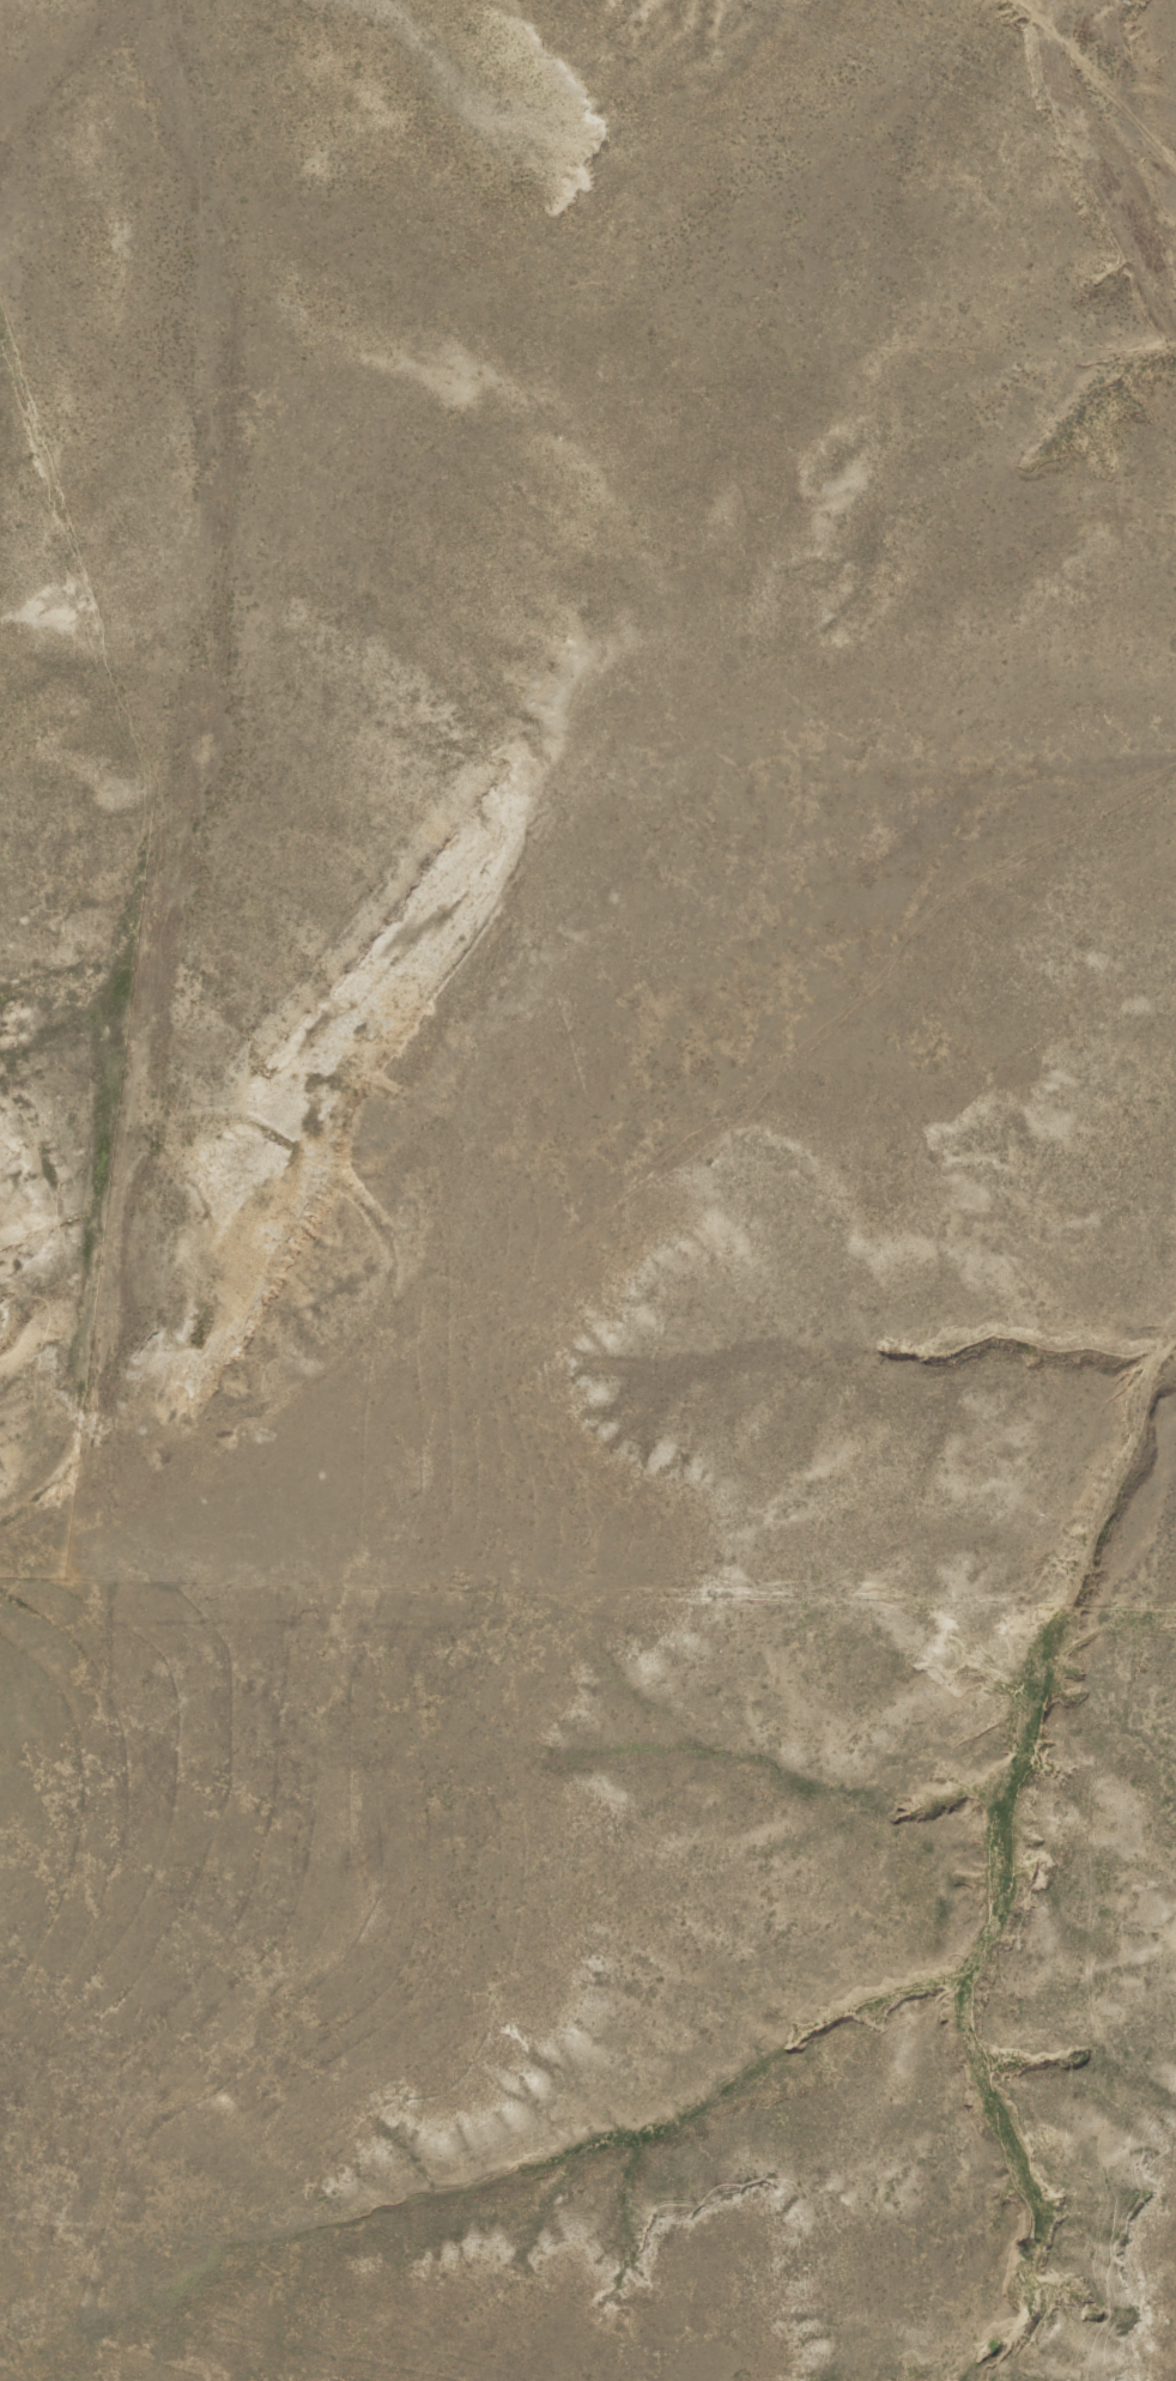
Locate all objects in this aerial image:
road: (30, 1406)

